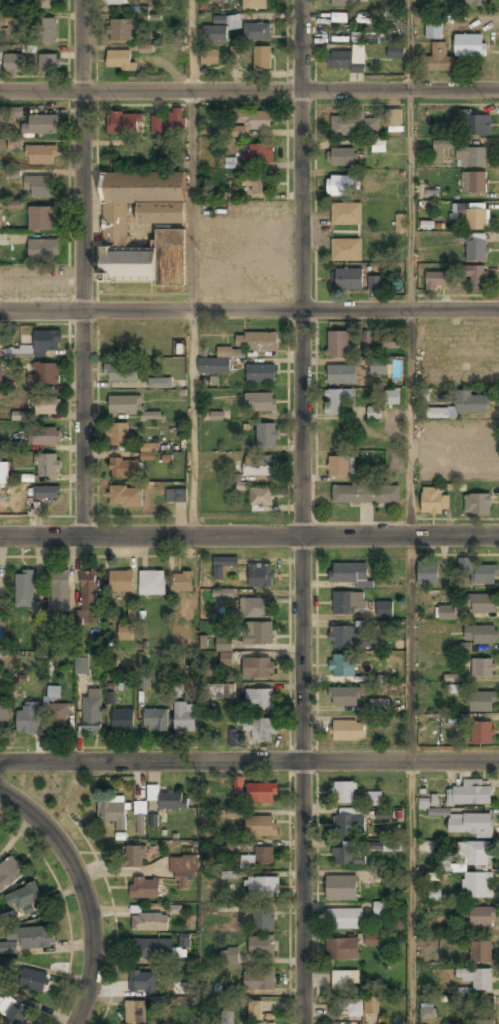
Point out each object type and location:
building: (115, 1)
building: (344, 2)
building: (43, 3)
building: (476, 3)
building: (255, 4)
building: (339, 17)
building: (47, 30)
building: (122, 30)
building: (219, 31)
building: (434, 31)
building: (257, 32)
building: (0, 33)
building: (371, 38)
road: (409, 43)
road: (191, 44)
building: (469, 45)
building: (395, 52)
building: (234, 53)
building: (208, 57)
building: (262, 57)
building: (346, 58)
building: (437, 58)
building: (120, 60)
building: (49, 62)
building: (13, 63)
road: (249, 86)
building: (12, 112)
building: (393, 117)
building: (252, 119)
building: (169, 121)
building: (123, 123)
building: (475, 123)
building: (40, 125)
building: (355, 125)
building: (237, 131)
building: (378, 145)
building: (440, 151)
building: (260, 153)
building: (41, 155)
building: (471, 156)
building: (342, 157)
building: (474, 181)
building: (256, 184)
building: (341, 185)
building: (40, 186)
building: (426, 191)
building: (12, 204)
building: (346, 214)
building: (474, 214)
building: (0, 218)
building: (41, 219)
building: (400, 222)
building: (115, 227)
building: (346, 249)
building: (43, 250)
building: (477, 250)
road: (83, 268)
building: (475, 276)
building: (347, 279)
building: (436, 280)
building: (377, 282)
road: (249, 310)
road: (194, 311)
road: (410, 311)
building: (364, 337)
building: (389, 341)
building: (255, 342)
building: (338, 343)
building: (37, 346)
building: (214, 365)
building: (378, 366)
building: (121, 372)
building: (261, 373)
building: (44, 374)
building: (342, 374)
building: (1, 375)
building: (160, 382)
building: (392, 397)
building: (335, 401)
building: (261, 402)
building: (473, 403)
building: (125, 404)
building: (47, 405)
building: (374, 412)
building: (437, 412)
building: (19, 415)
building: (117, 435)
building: (267, 435)
building: (45, 436)
building: (147, 451)
building: (374, 460)
building: (48, 465)
building: (259, 465)
building: (339, 466)
building: (123, 468)
building: (4, 473)
building: (47, 492)
building: (365, 494)
building: (176, 495)
building: (125, 497)
building: (261, 497)
building: (431, 500)
building: (477, 504)
road: (302, 512)
road: (249, 536)
building: (221, 566)
building: (478, 571)
building: (349, 572)
building: (428, 573)
building: (260, 574)
building: (122, 581)
building: (182, 581)
building: (151, 583)
building: (24, 590)
building: (59, 591)
building: (222, 592)
building: (89, 596)
building: (347, 601)
building: (481, 603)
building: (255, 607)
building: (385, 609)
building: (2, 612)
building: (446, 612)
building: (124, 633)
building: (257, 633)
building: (481, 634)
building: (343, 635)
building: (223, 644)
building: (225, 659)
building: (341, 664)
building: (81, 665)
building: (482, 667)
building: (257, 668)
building: (451, 678)
building: (143, 682)
building: (177, 684)
building: (455, 689)
building: (53, 691)
building: (219, 691)
building: (345, 696)
building: (260, 699)
building: (482, 701)
building: (379, 703)
building: (93, 712)
building: (3, 713)
building: (57, 715)
building: (184, 717)
building: (28, 718)
building: (156, 719)
building: (123, 720)
building: (259, 728)
building: (348, 730)
building: (481, 733)
building: (235, 738)
road: (249, 762)
road: (413, 779)
building: (238, 784)
building: (343, 792)
building: (261, 793)
building: (469, 793)
building: (171, 799)
building: (374, 799)
building: (438, 812)
building: (113, 813)
building: (235, 813)
building: (384, 815)
building: (140, 818)
building: (470, 824)
building: (349, 825)
building: (261, 826)
building: (236, 843)
building: (374, 846)
building: (392, 846)
building: (475, 853)
building: (134, 855)
building: (347, 856)
building: (259, 857)
building: (444, 863)
building: (183, 866)
building: (9, 873)
building: (477, 885)
building: (262, 887)
building: (144, 888)
building: (341, 888)
road: (83, 893)
building: (434, 895)
building: (22, 899)
building: (228, 907)
building: (380, 908)
building: (481, 916)
building: (343, 918)
building: (263, 920)
building: (150, 921)
building: (28, 938)
building: (372, 939)
building: (261, 946)
building: (151, 948)
building: (342, 949)
building: (481, 951)
building: (230, 957)
building: (476, 976)
building: (34, 979)
building: (341, 980)
building: (142, 981)
building: (258, 981)
building: (464, 992)
building: (371, 1006)
building: (348, 1007)
building: (254, 1010)
building: (428, 1011)
building: (135, 1012)
building: (18, 1013)
building: (228, 1017)
building: (484, 1022)
building: (267, 1023)
building: (455, 1023)

